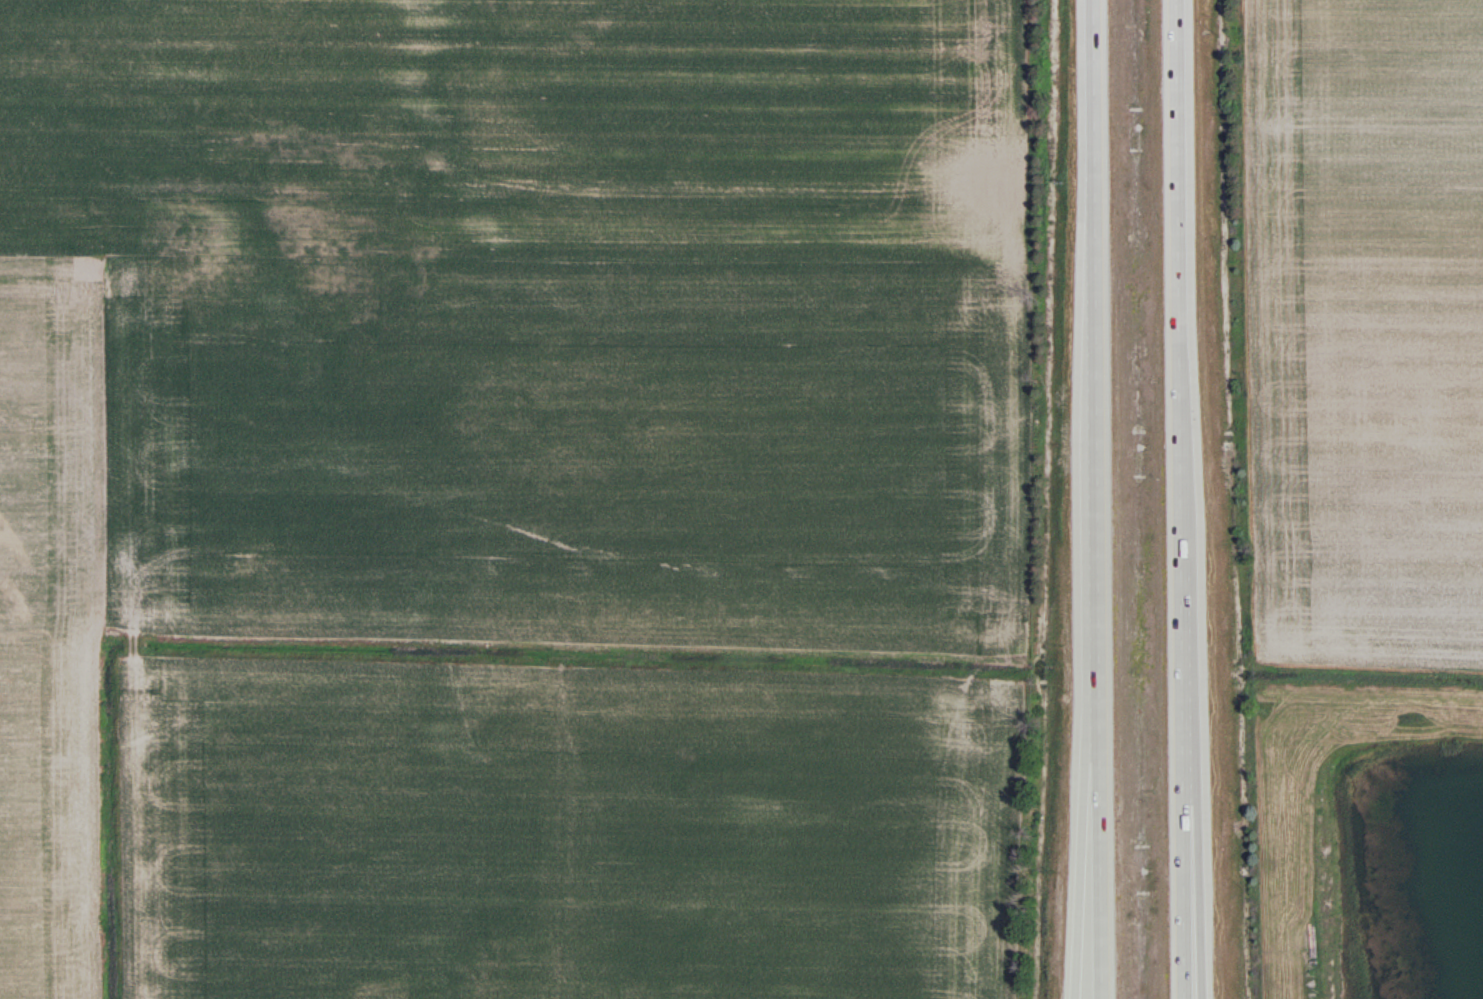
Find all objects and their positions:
road: (1092, 499)
road: (1178, 499)
road: (1083, 866)
road: (1187, 909)

